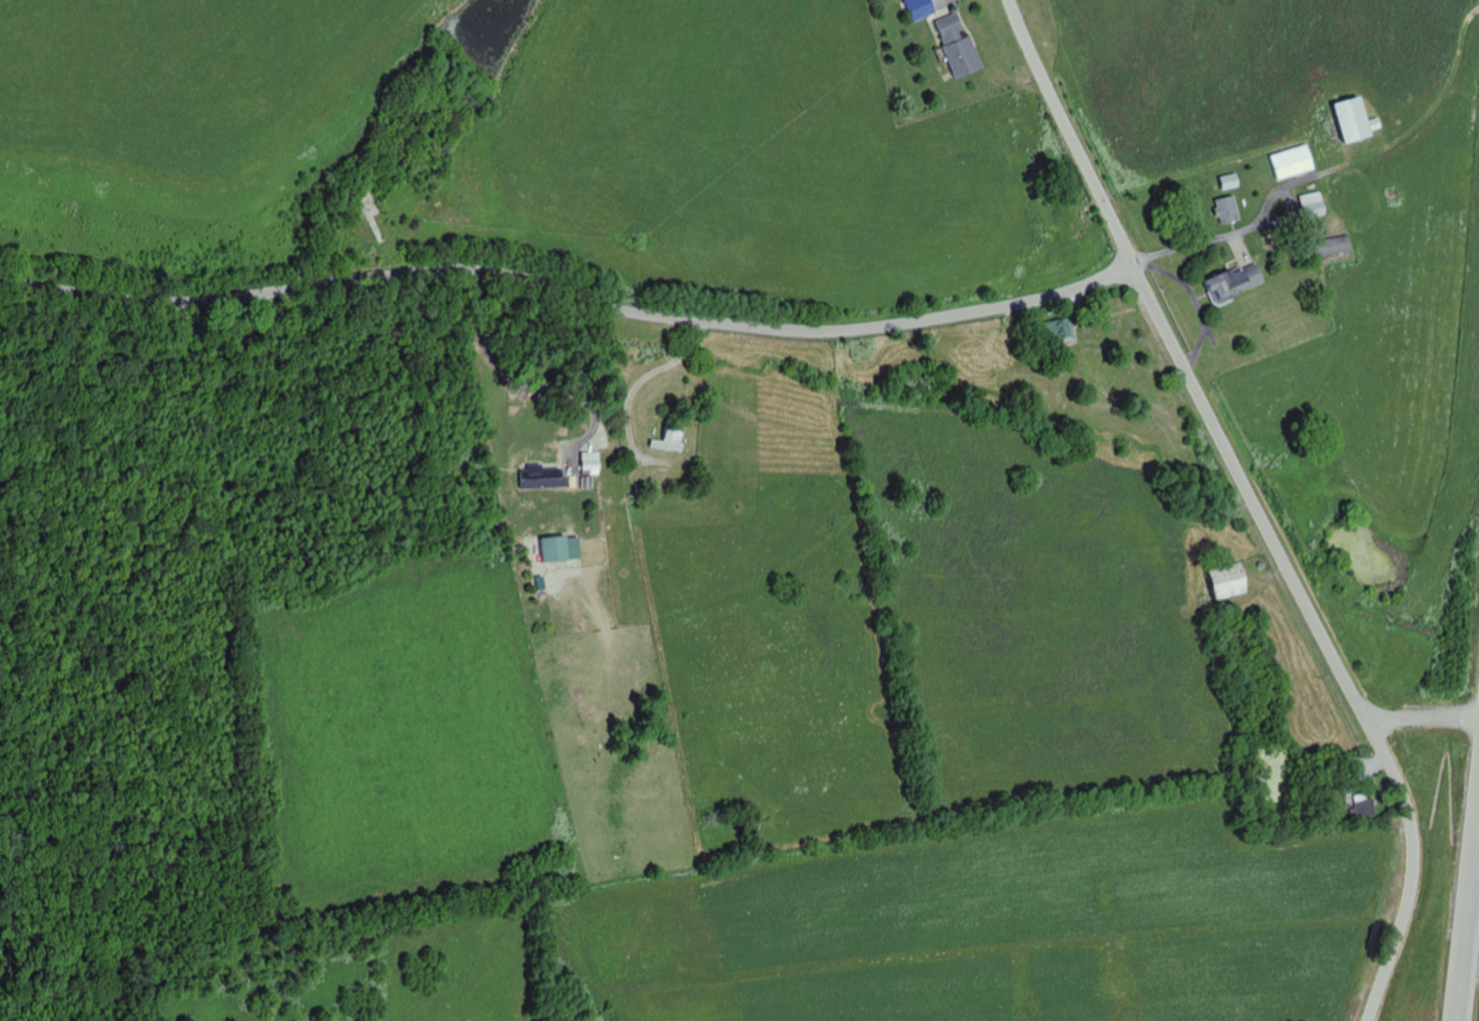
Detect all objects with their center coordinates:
building: (960, 45)
building: (1357, 121)
road: (1069, 134)
building: (1296, 162)
building: (1233, 182)
building: (1317, 205)
building: (1231, 210)
building: (382, 225)
building: (1337, 245)
building: (1238, 282)
road: (570, 291)
building: (1061, 332)
building: (671, 439)
building: (592, 463)
road: (579, 469)
building: (543, 478)
building: (557, 550)
building: (1230, 581)
road: (1319, 635)
road: (1422, 718)
building: (1363, 805)
road: (1468, 910)

